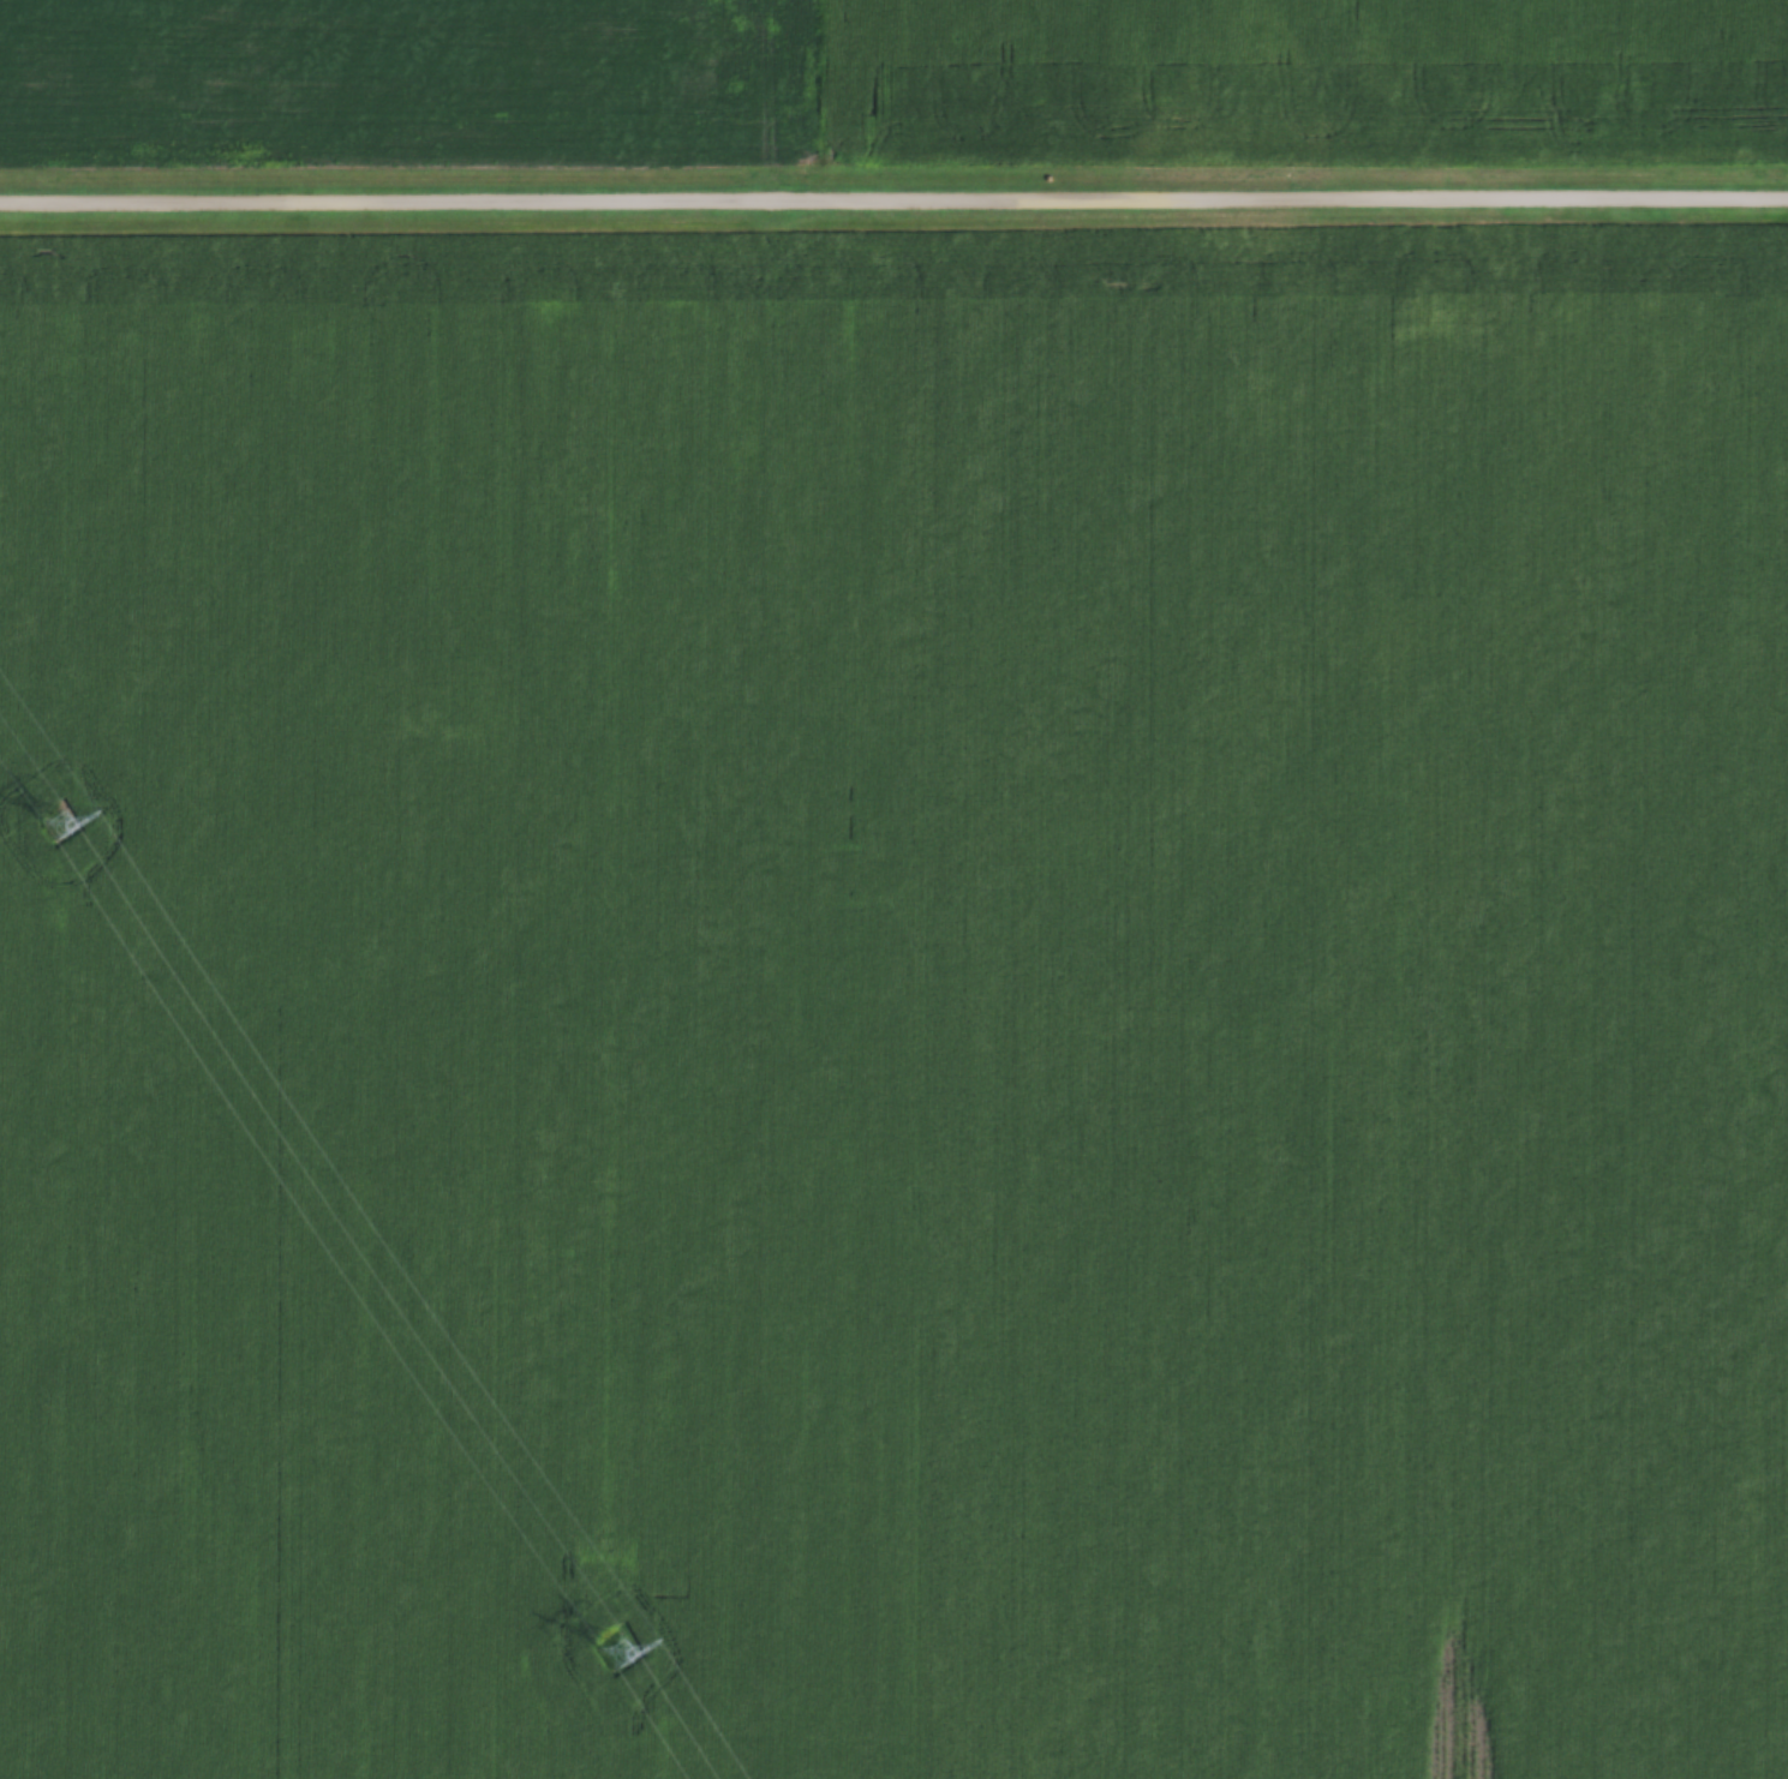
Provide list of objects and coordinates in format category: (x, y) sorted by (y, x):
road: (893, 196)
power tower: (60, 827)
power tower: (615, 1653)

